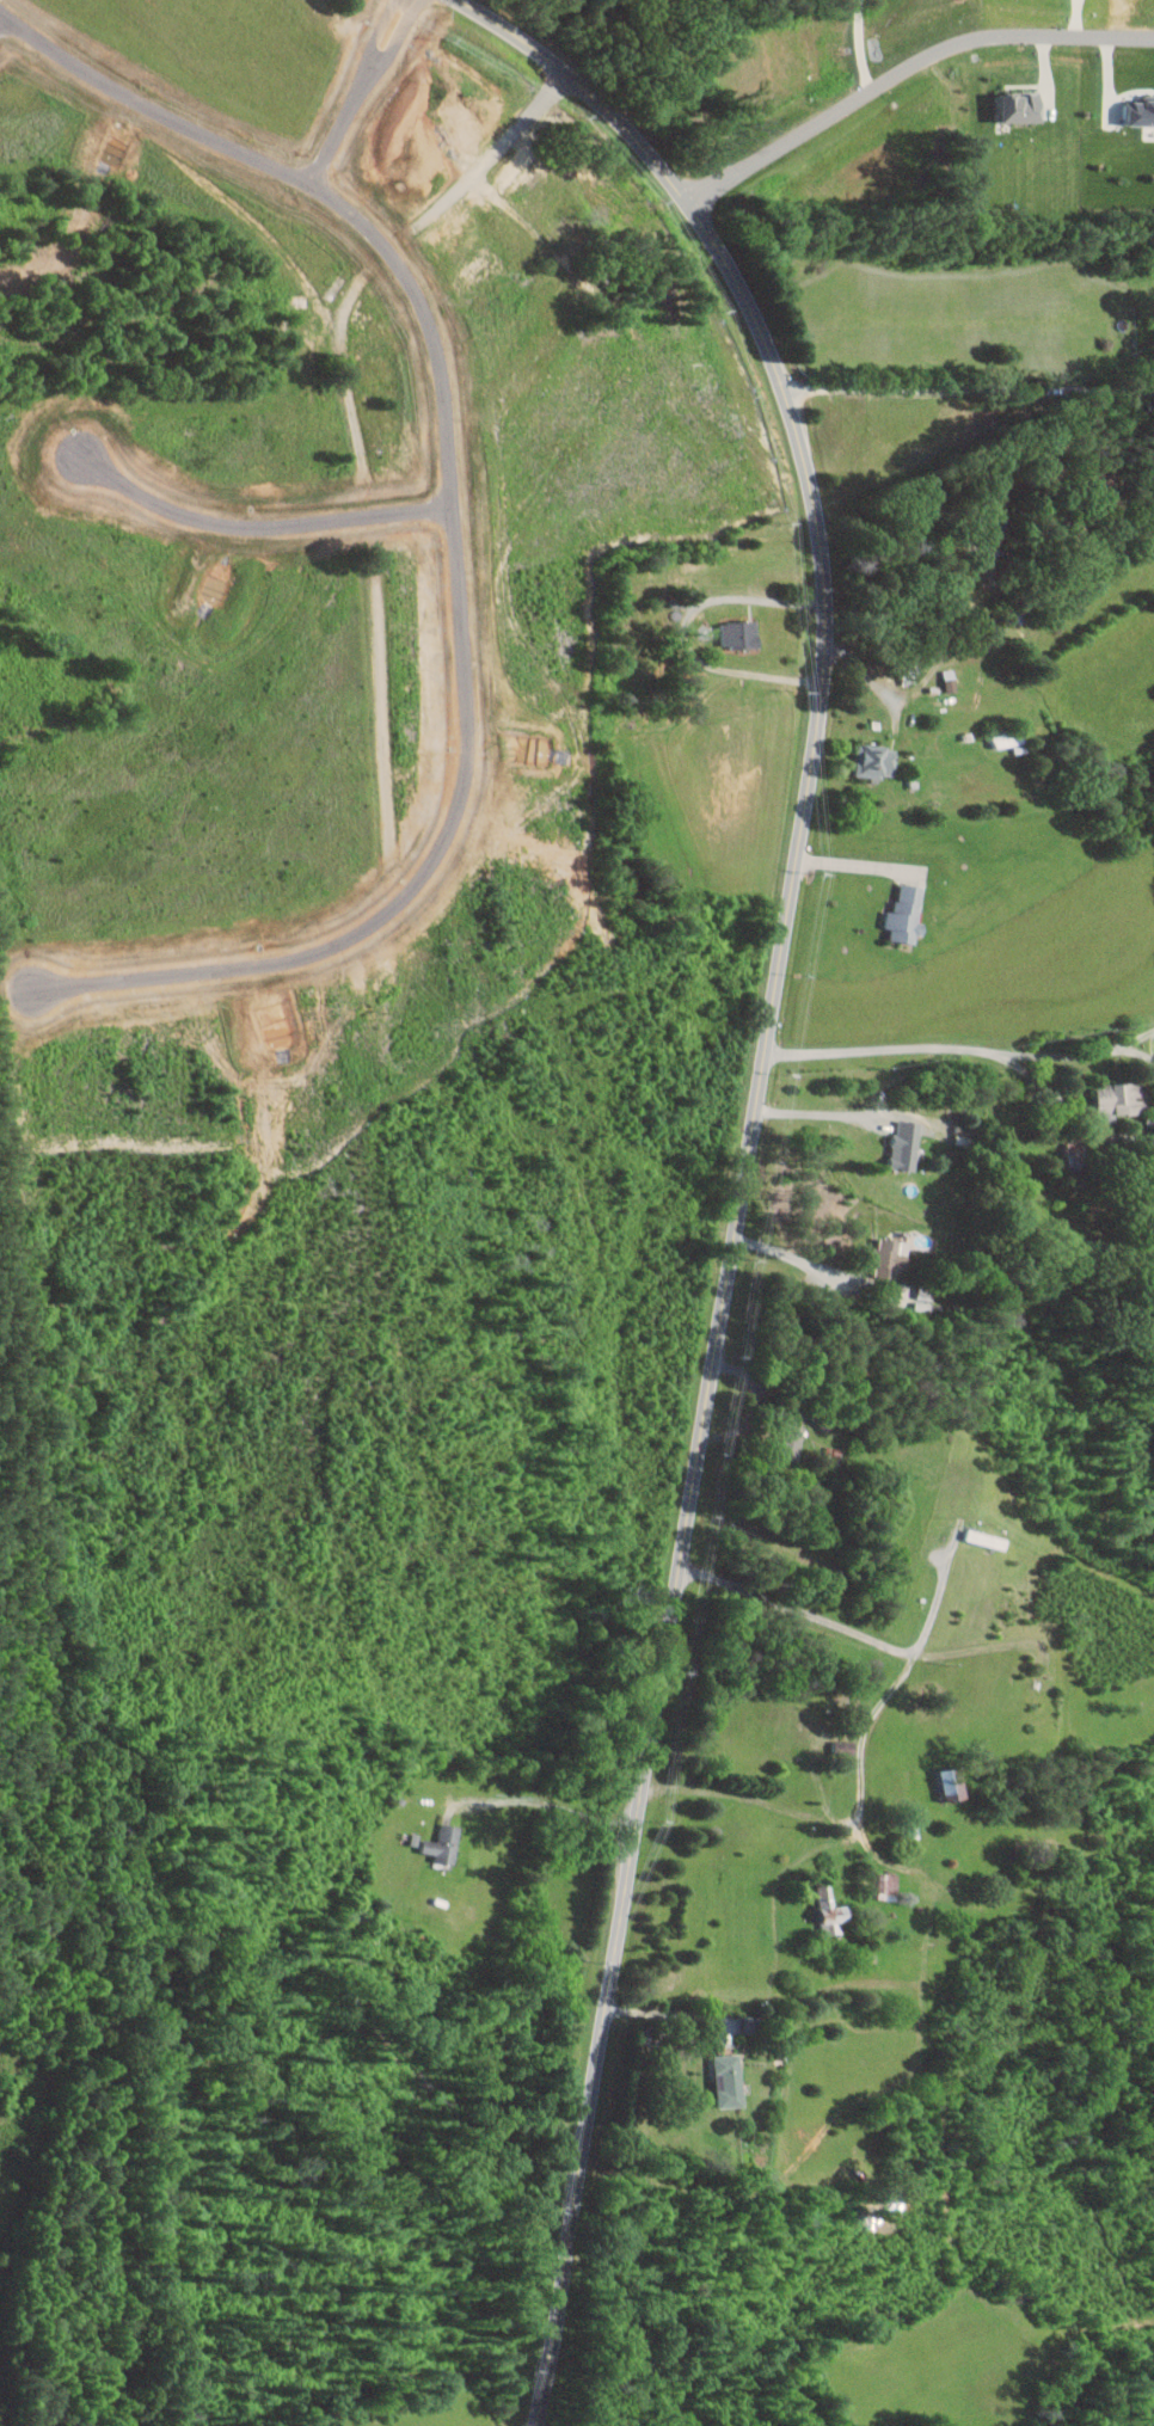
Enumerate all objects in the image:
road: (2, 23)
road: (375, 30)
road: (397, 33)
road: (854, 43)
road: (901, 61)
building: (1023, 106)
building: (1140, 112)
road: (339, 123)
building: (393, 182)
building: (478, 272)
road: (970, 387)
road: (447, 548)
road: (685, 632)
building: (741, 634)
building: (877, 761)
road: (854, 862)
building: (907, 915)
road: (959, 1051)
building: (1122, 1098)
road: (1074, 1106)
road: (818, 1113)
building: (906, 1146)
road: (747, 1151)
building: (888, 1258)
road: (806, 1261)
road: (753, 1402)
road: (849, 1630)
road: (860, 1754)
building: (954, 1782)
road: (753, 1798)
road: (544, 1802)
building: (889, 1885)
building: (831, 1909)
road: (713, 2013)
building: (729, 2080)

